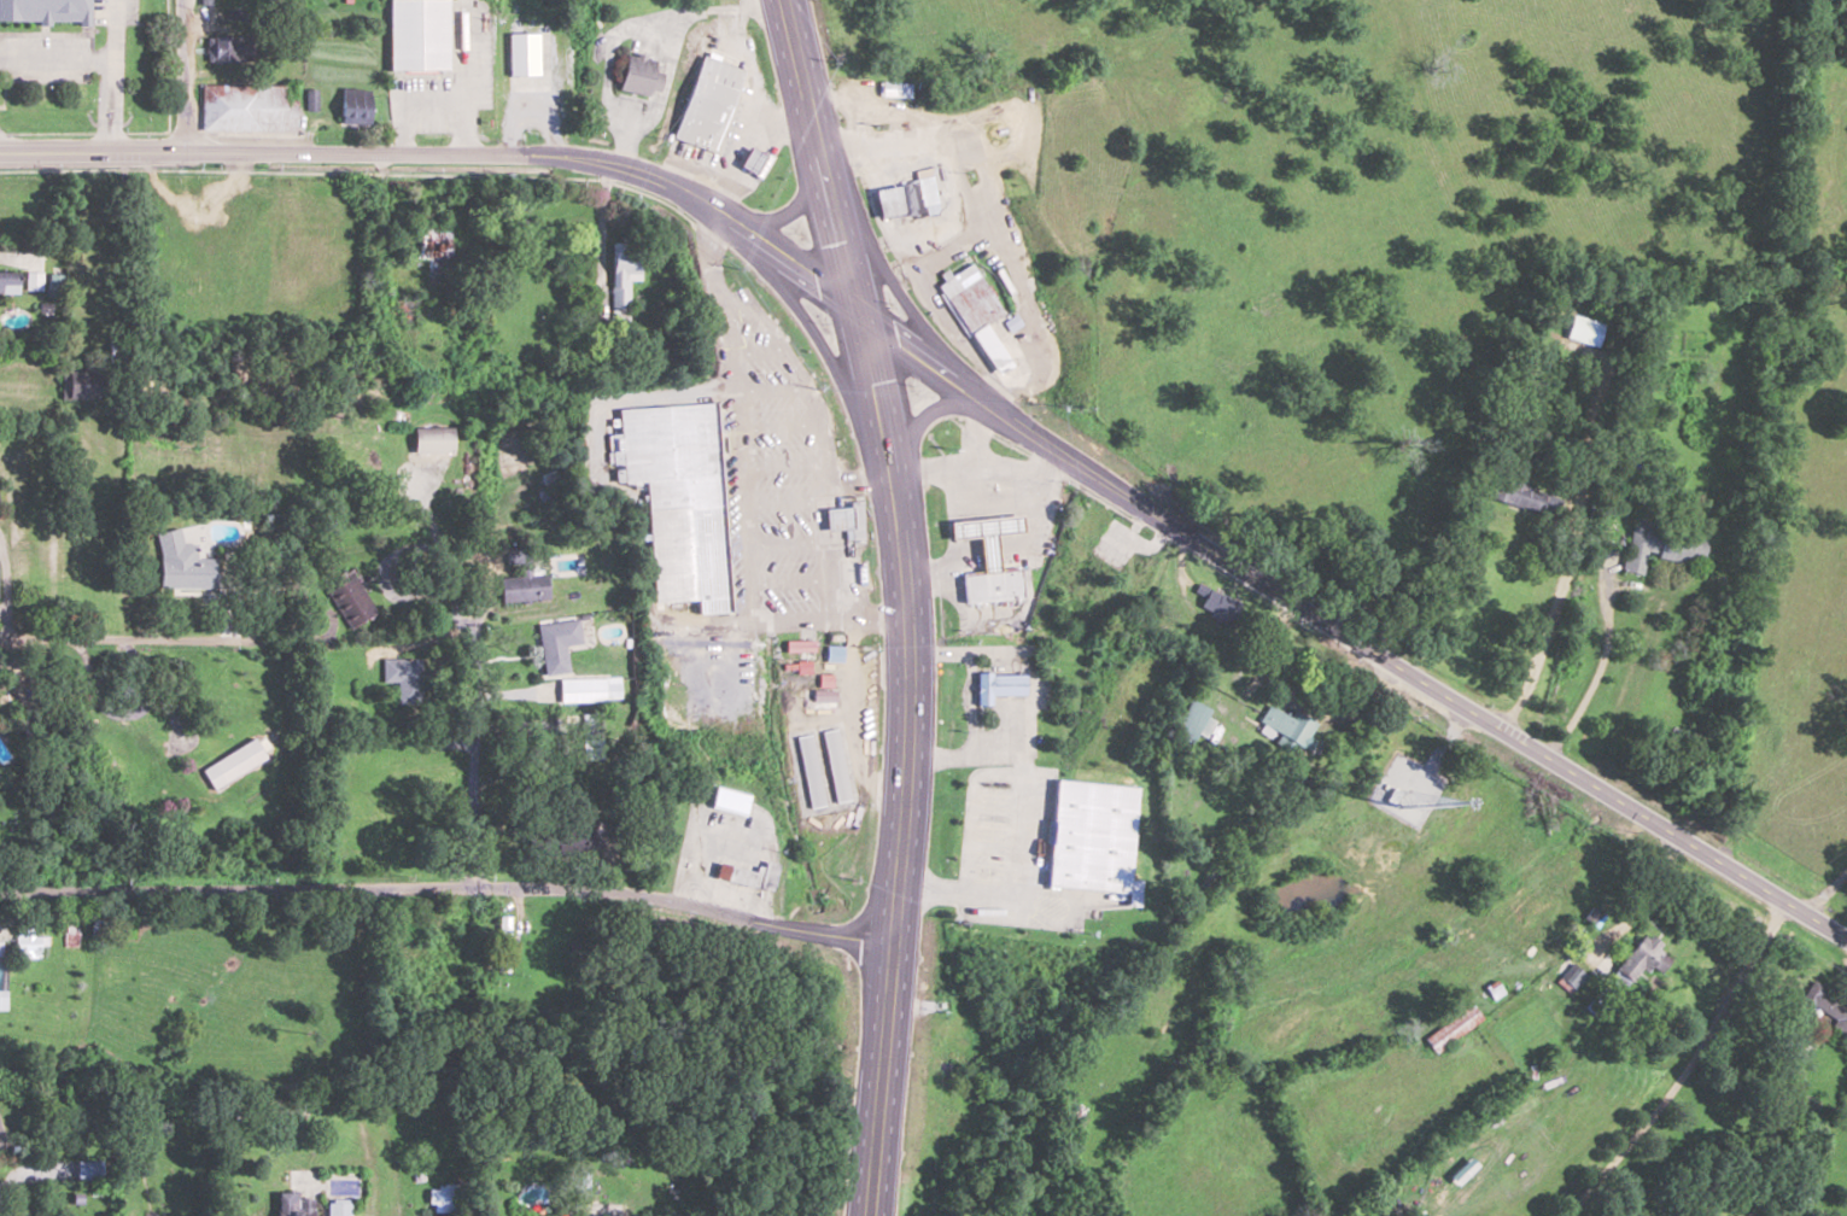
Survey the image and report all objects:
building: (665, 27)
building: (223, 48)
road: (185, 76)
building: (895, 88)
building: (711, 104)
building: (246, 107)
building: (356, 107)
road: (452, 153)
road: (820, 156)
gas station: (752, 163)
building: (927, 191)
building: (892, 200)
gas station: (890, 203)
road: (794, 209)
building: (433, 251)
building: (624, 275)
building: (34, 280)
building: (10, 281)
building: (54, 281)
road: (894, 285)
building: (407, 312)
building: (981, 320)
road: (832, 370)
building: (82, 384)
road: (918, 423)
building: (433, 439)
building: (1518, 491)
building: (680, 498)
building: (842, 516)
gas station: (982, 530)
building: (1086, 536)
building: (1660, 545)
building: (986, 551)
building: (183, 566)
road: (1562, 579)
building: (522, 587)
building: (350, 598)
building: (1218, 604)
road: (296, 620)
road: (1348, 635)
building: (556, 644)
building: (405, 677)
building: (999, 685)
building: (820, 697)
building: (1192, 721)
building: (1285, 727)
road: (553, 729)
road: (1445, 735)
building: (130, 739)
building: (232, 762)
road: (904, 762)
building: (820, 770)
building: (729, 801)
building: (589, 837)
building: (749, 875)
road: (446, 893)
building: (998, 902)
building: (502, 943)
building: (29, 946)
building: (0, 949)
building: (1638, 961)
building: (1572, 976)
building: (2, 999)
building: (1824, 1007)
building: (1454, 1028)
building: (89, 1170)
building: (448, 1198)
building: (337, 1208)

